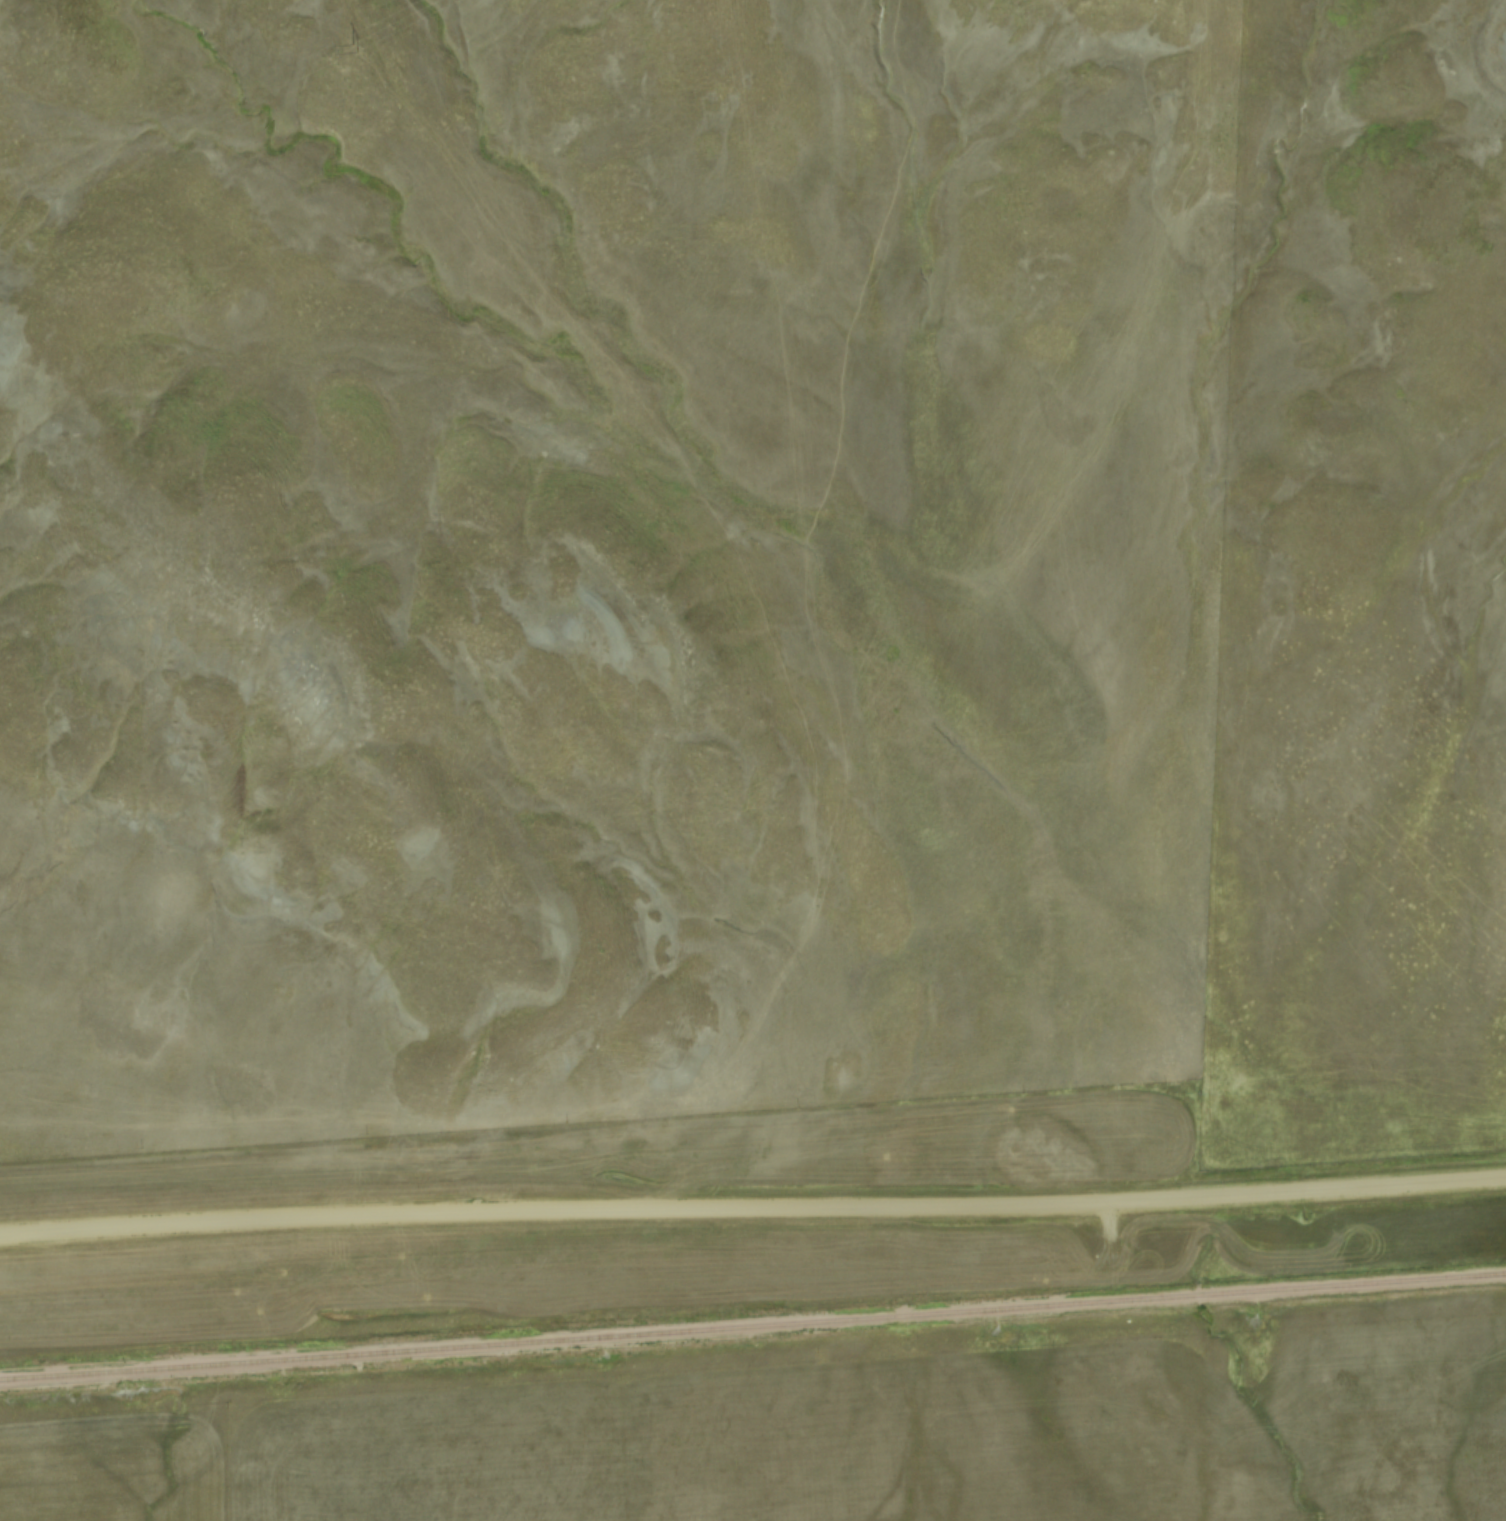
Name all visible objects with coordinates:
power tower: (355, 48)
road: (753, 1207)
railway: (752, 1324)

